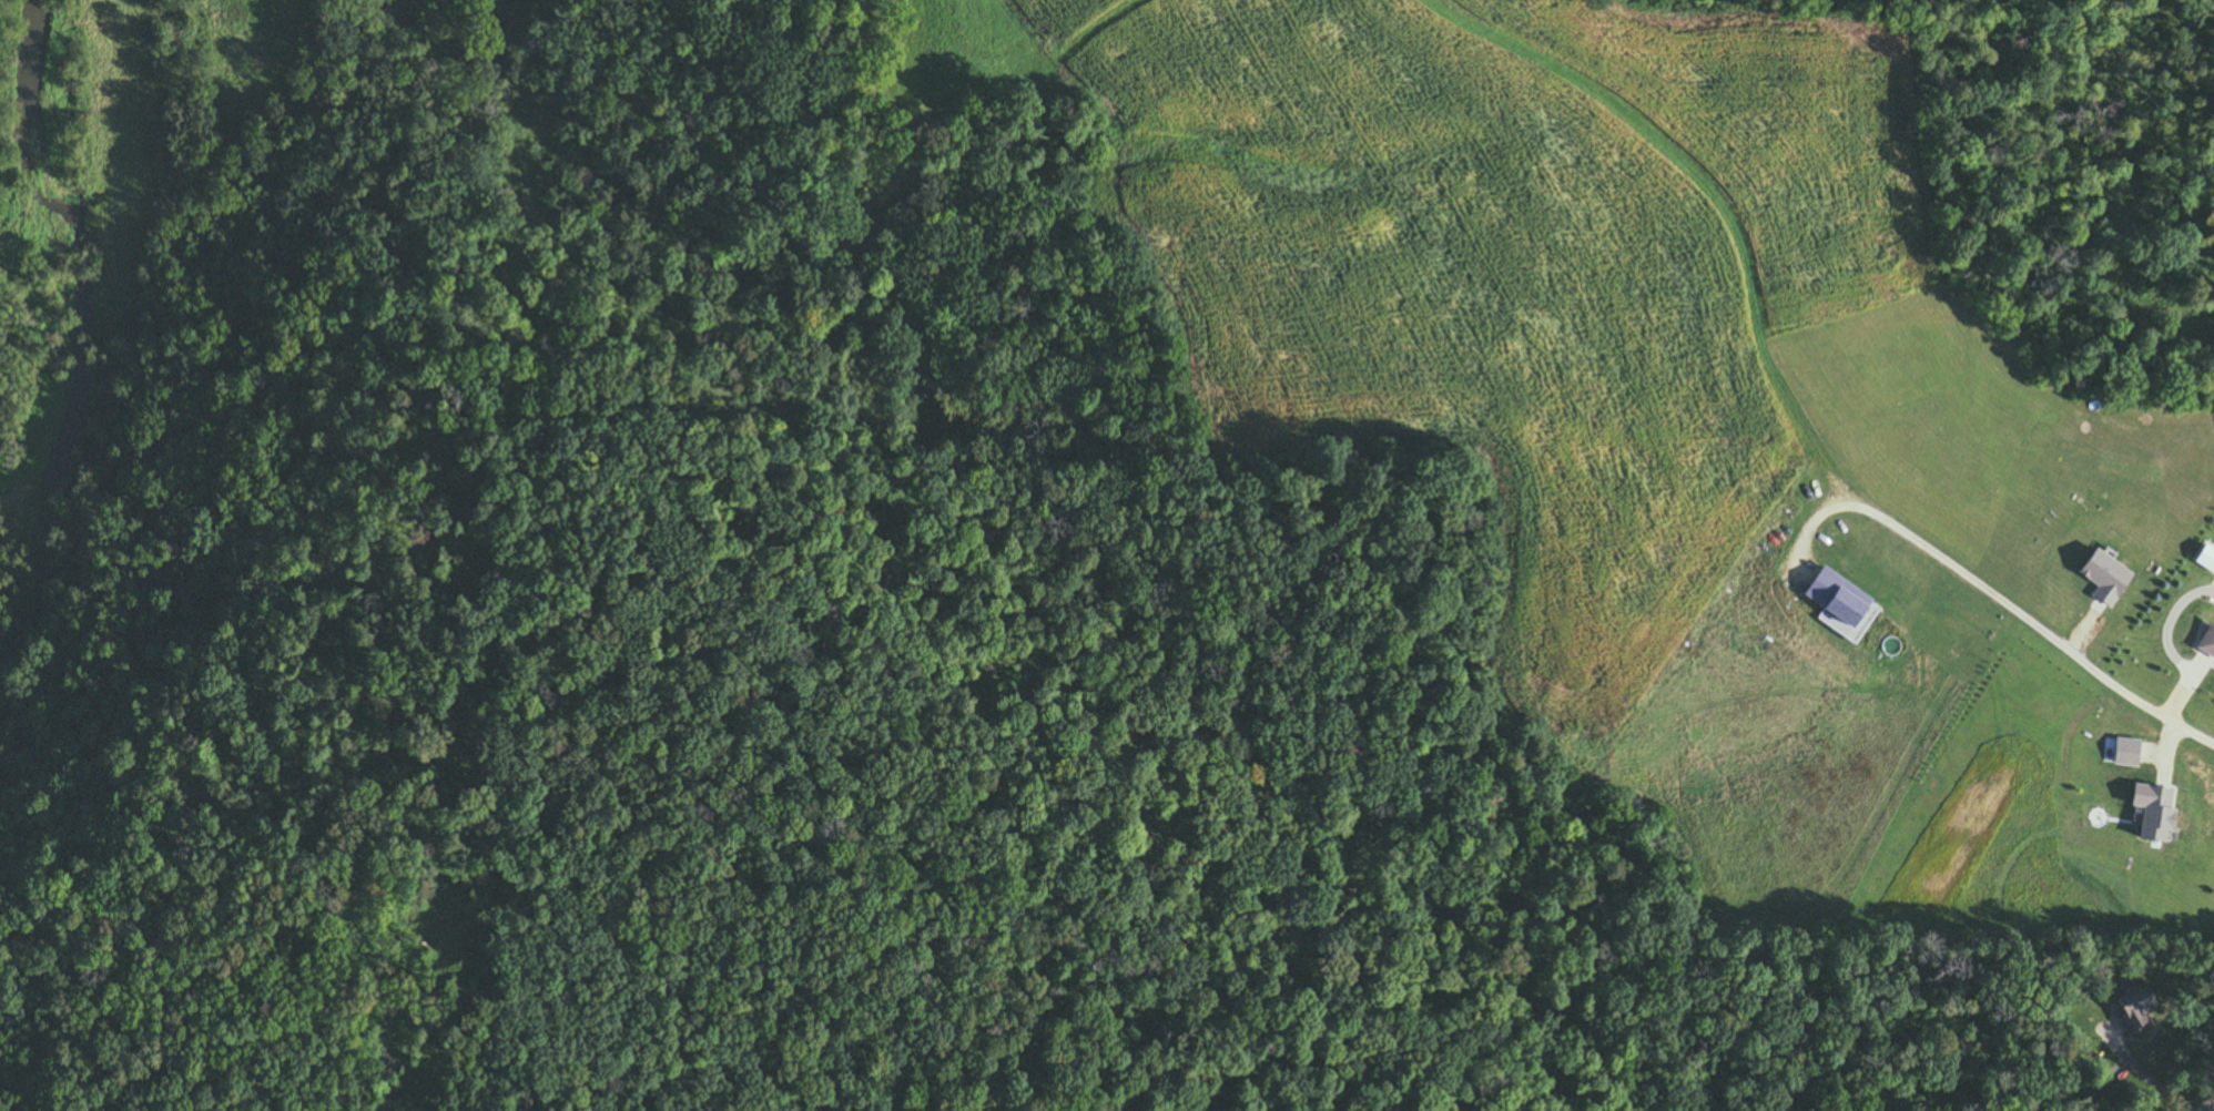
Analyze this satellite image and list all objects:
road: (2113, 75)
road: (1990, 253)
road: (2163, 288)
building: (2205, 643)
road: (2099, 676)
building: (2127, 1007)
road: (2142, 1072)
road: (2210, 1107)

